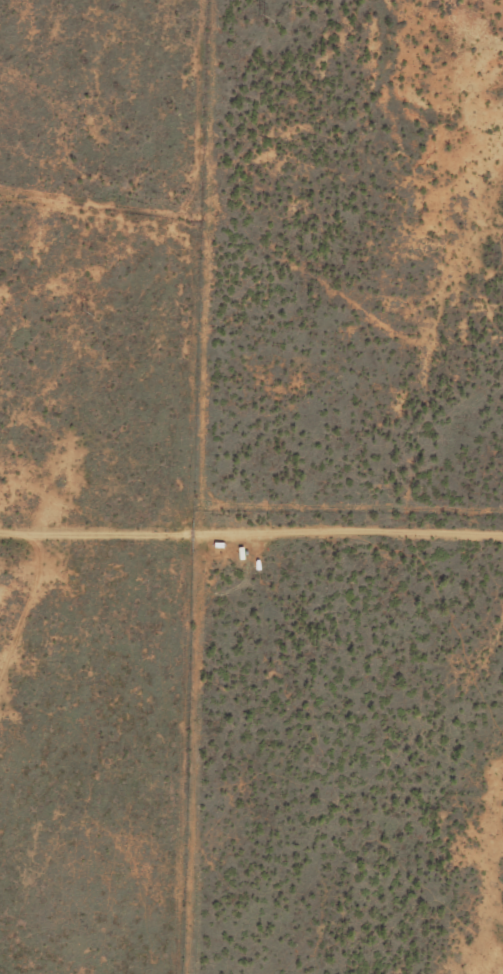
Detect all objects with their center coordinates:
power tower: (256, 18)
power tower: (80, 315)
road: (251, 526)

